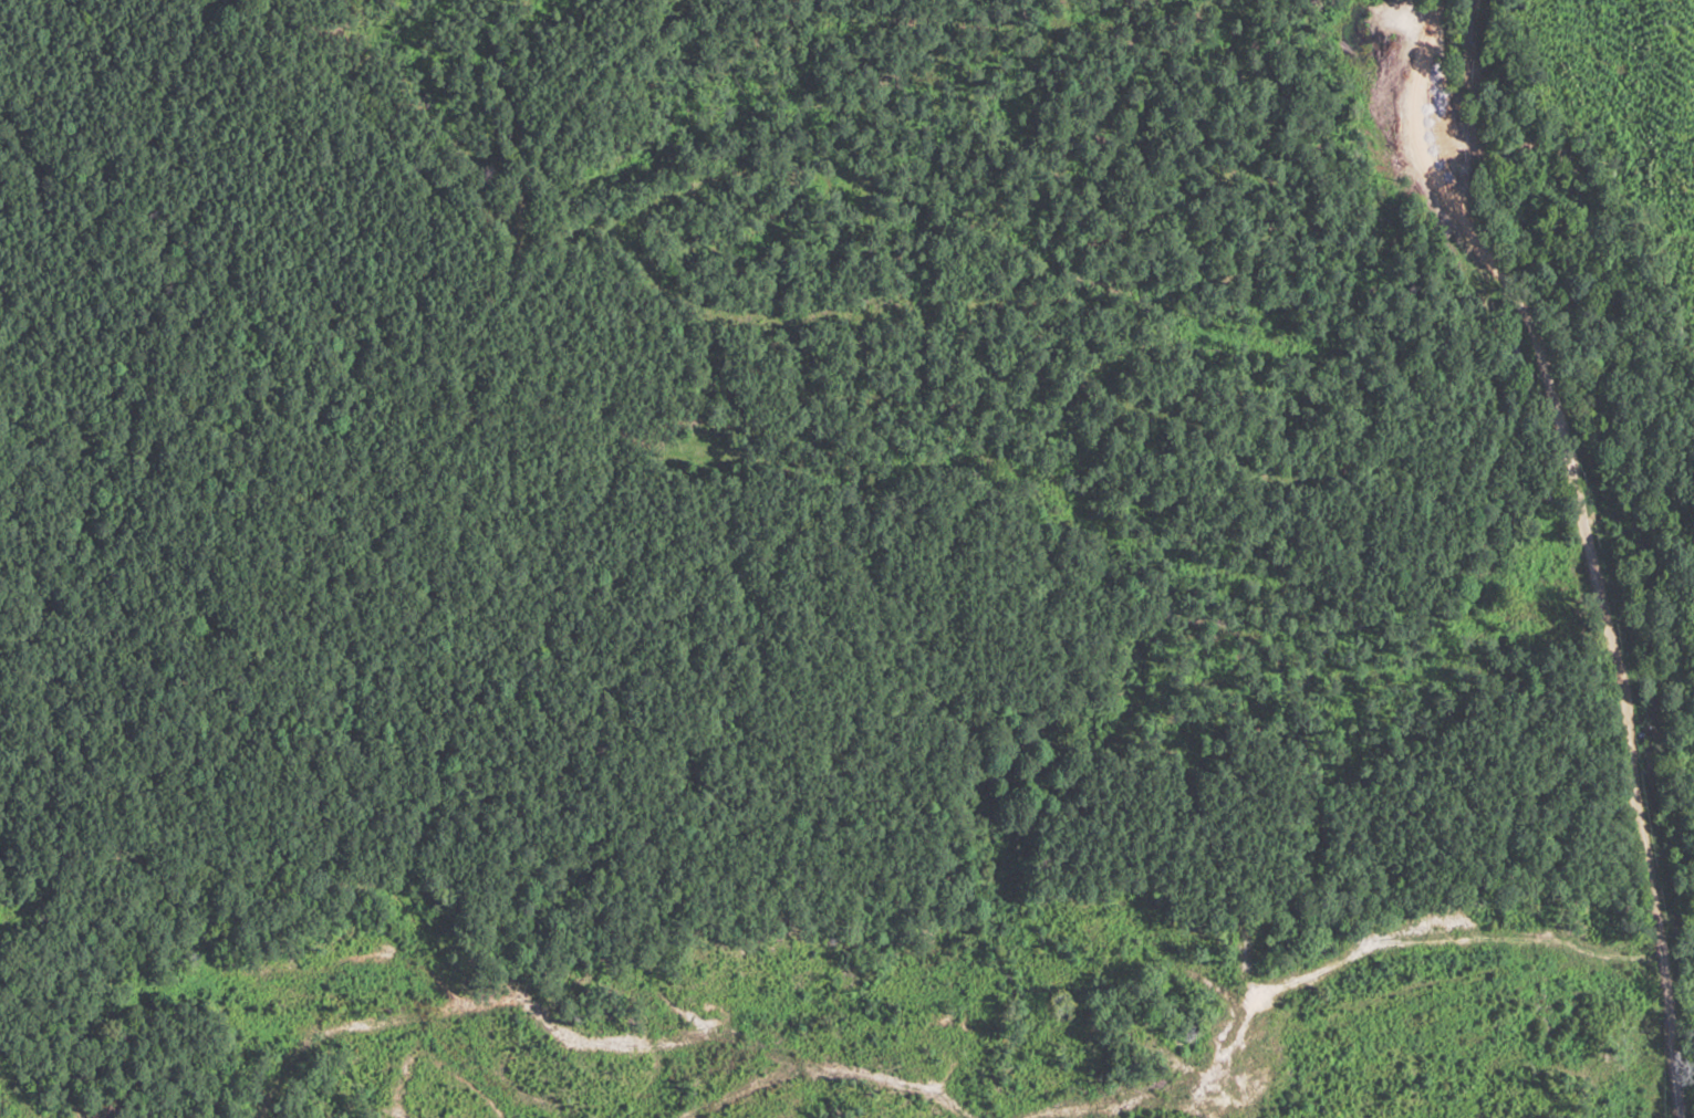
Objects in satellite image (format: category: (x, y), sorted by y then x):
road: (1586, 555)

